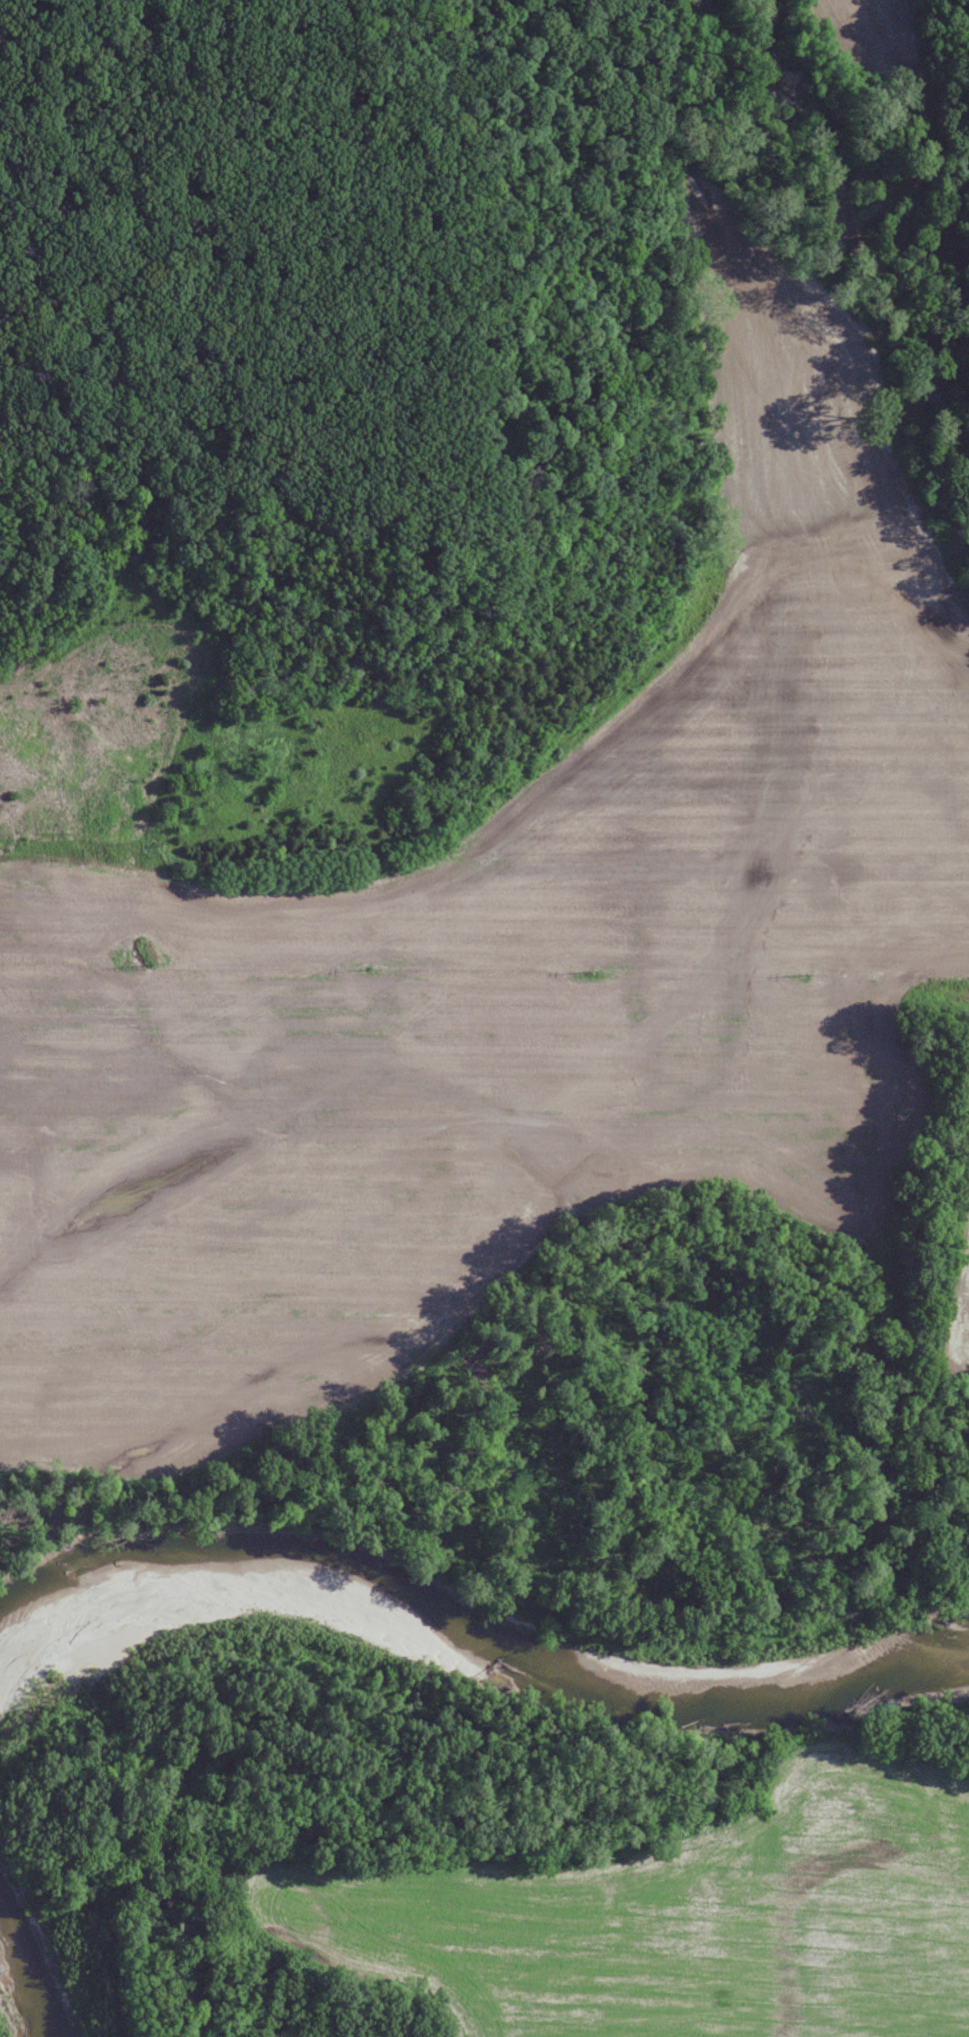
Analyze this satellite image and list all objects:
river: (469, 1649)

